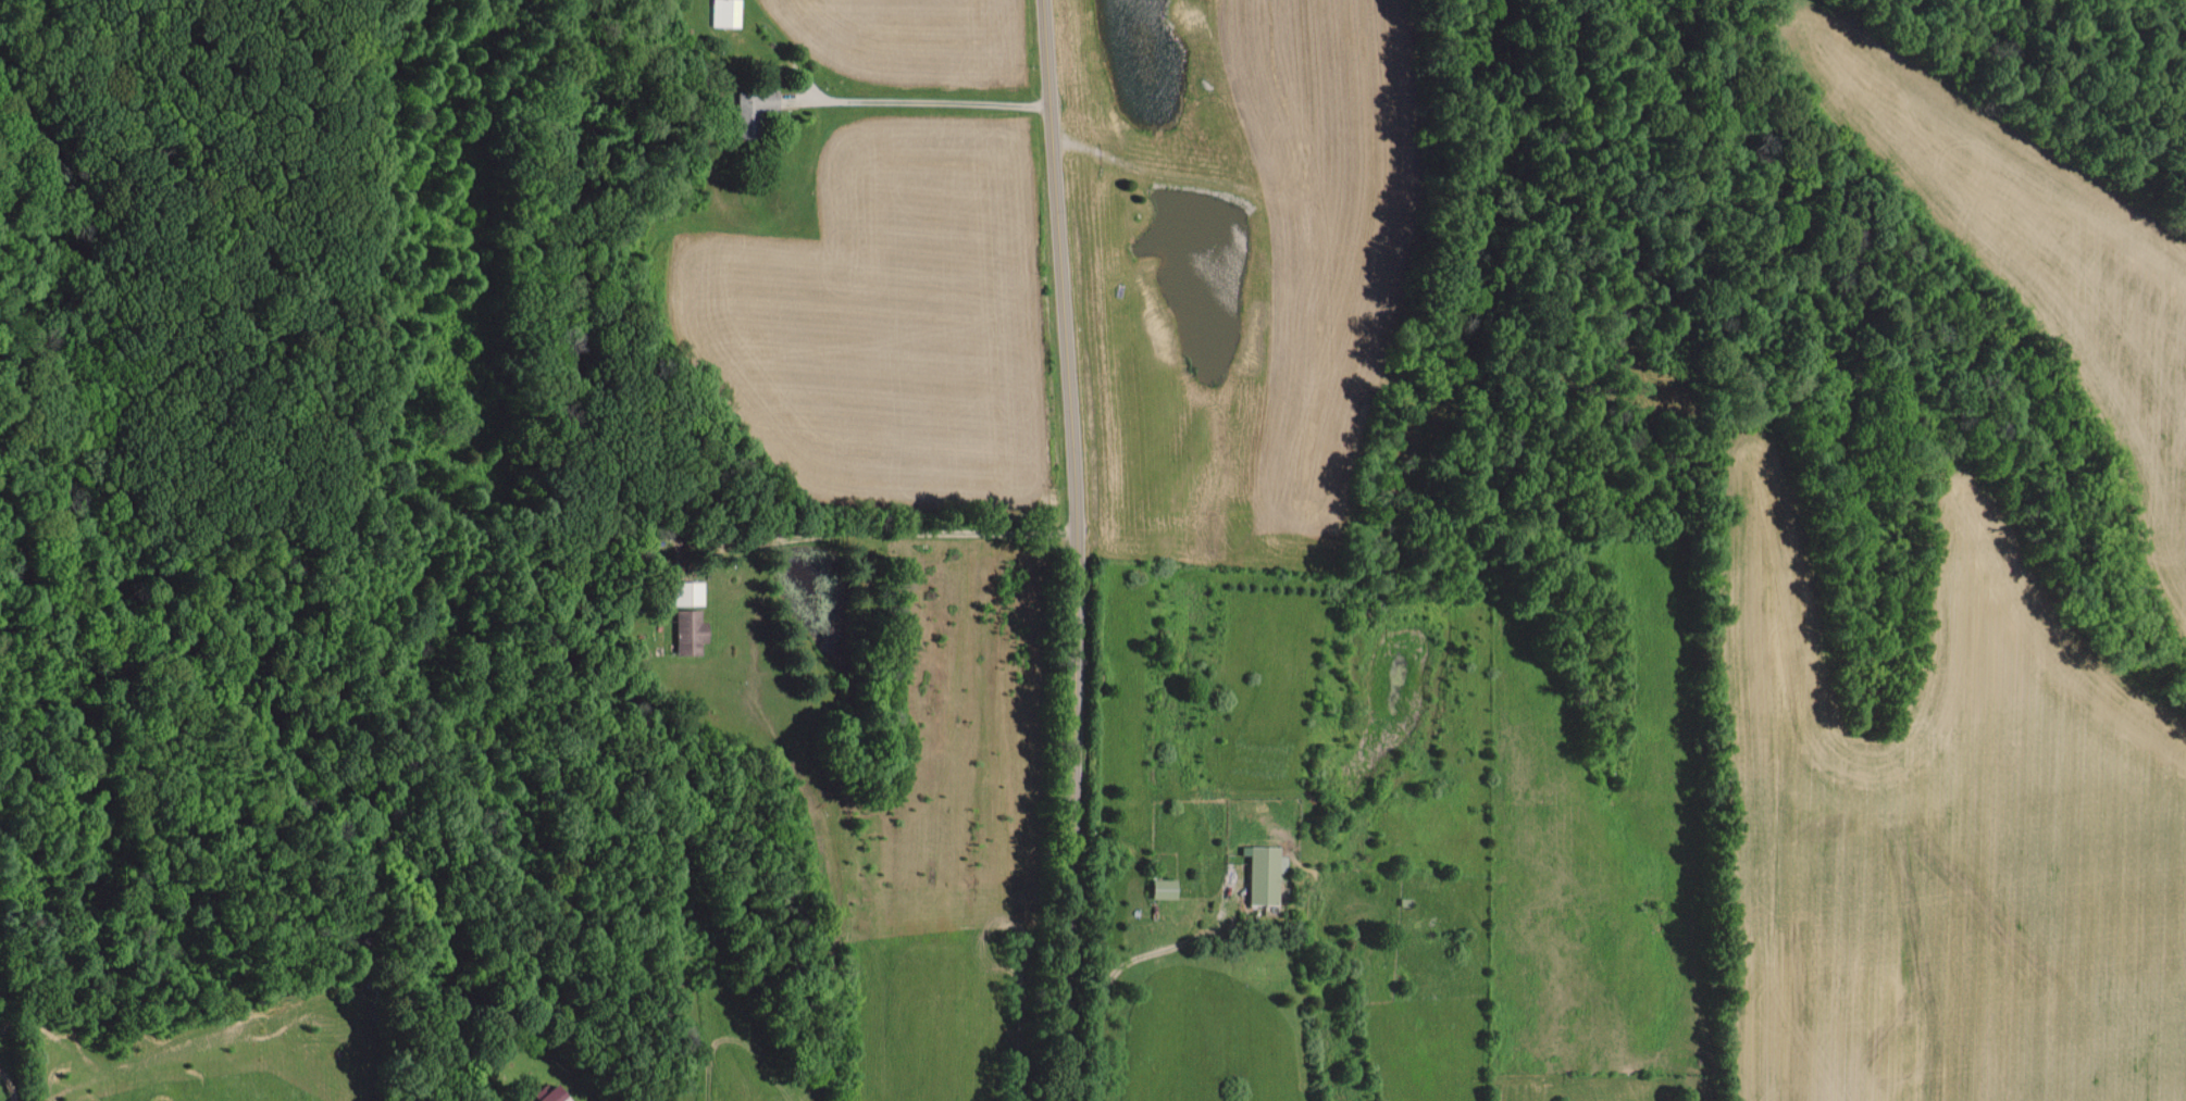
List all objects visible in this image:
building: (723, 13)
building: (750, 108)
road: (899, 530)
road: (1076, 550)
building: (686, 592)
building: (686, 630)
building: (1260, 873)
building: (1158, 887)
building: (547, 1094)

